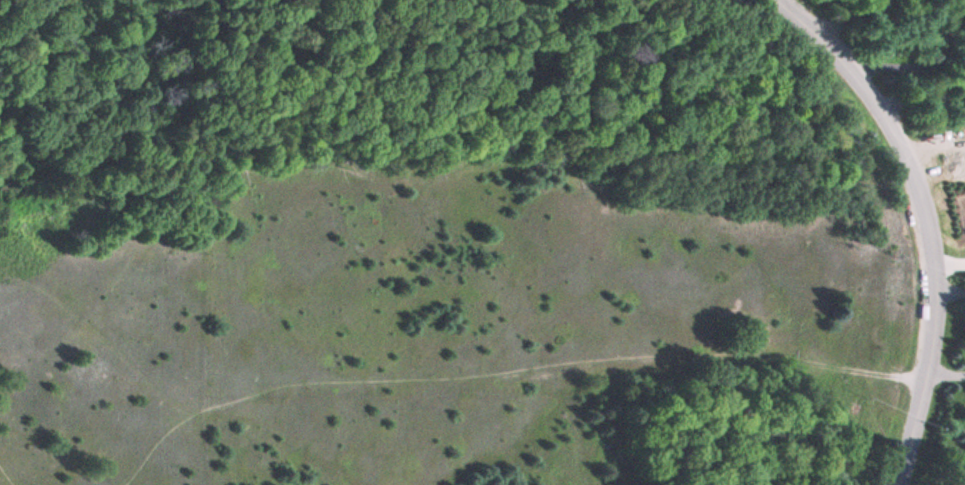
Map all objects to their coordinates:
building: (964, 8)
road: (930, 218)
road: (510, 377)
road: (5, 477)

